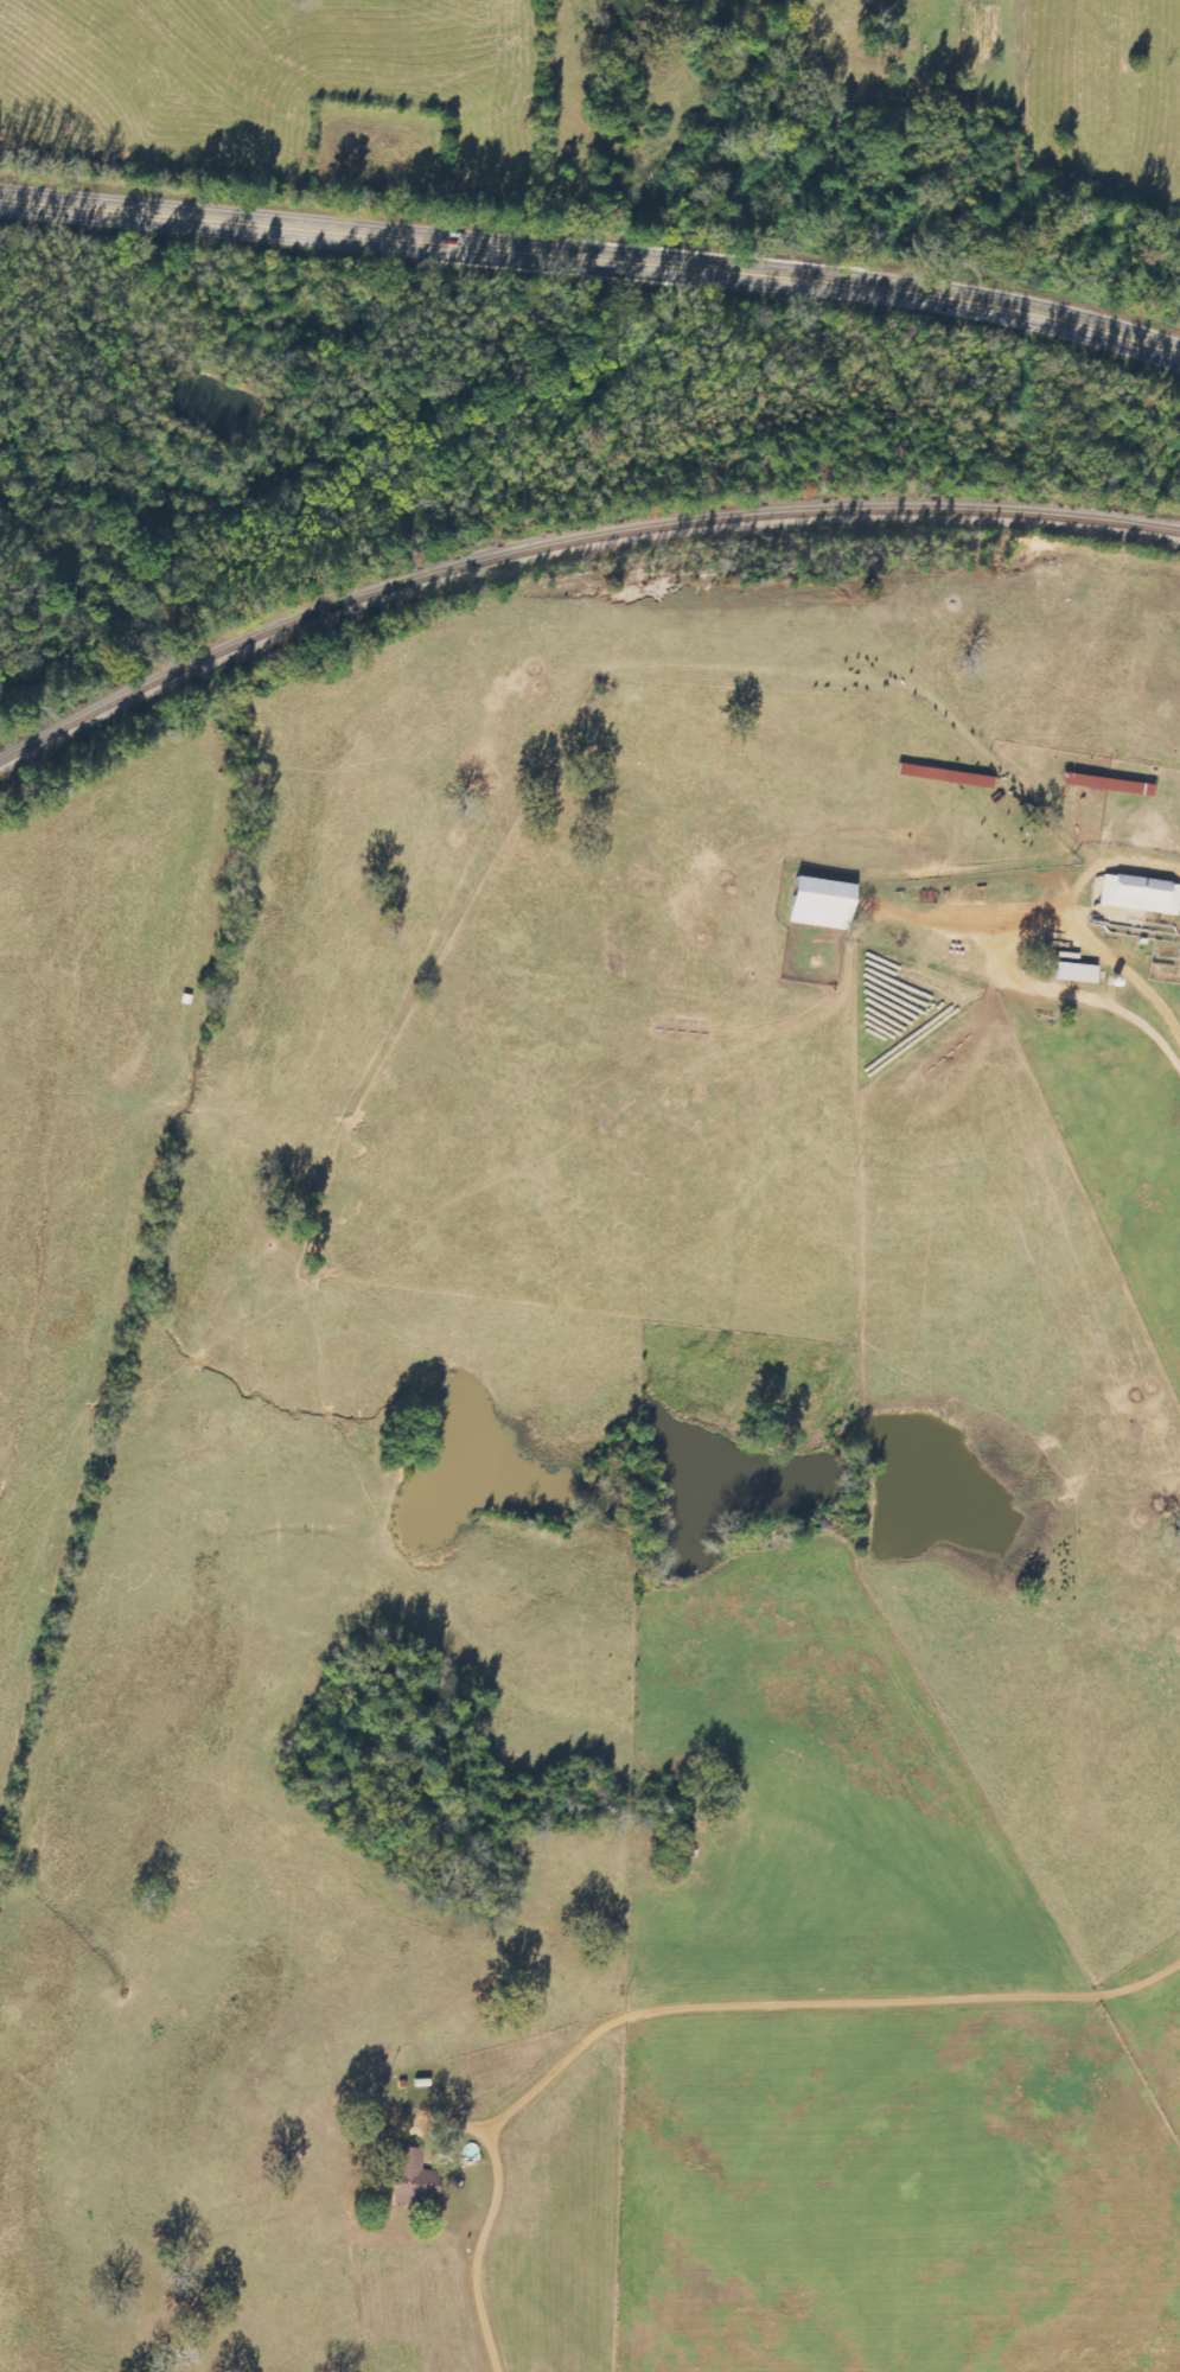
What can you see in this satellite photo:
road: (594, 253)
railway: (569, 540)
building: (944, 776)
building: (1105, 784)
building: (1140, 894)
building: (817, 904)
road: (1057, 912)
building: (1071, 971)
building: (413, 2180)

